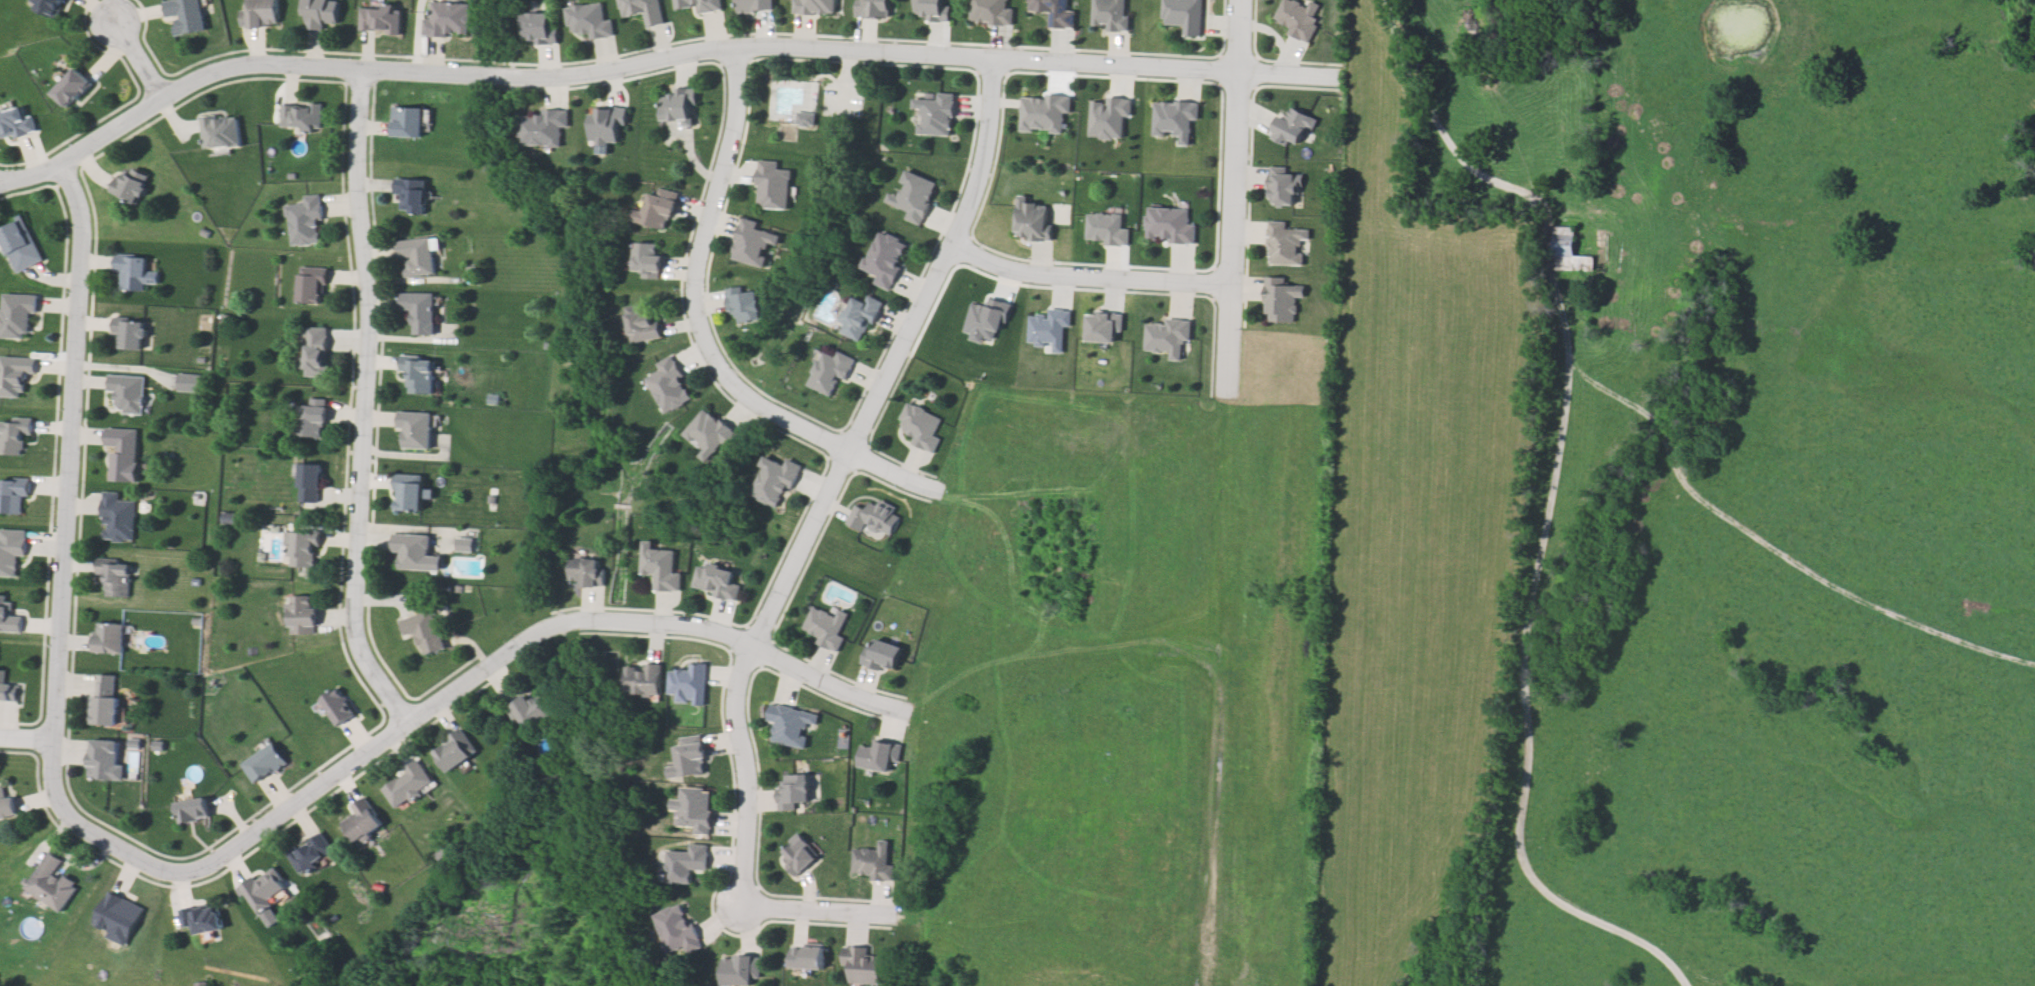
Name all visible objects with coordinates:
building: (692, 4)
building: (49, 6)
building: (754, 6)
building: (812, 6)
building: (638, 8)
building: (873, 8)
building: (934, 9)
building: (321, 10)
building: (992, 10)
building: (1047, 11)
building: (262, 12)
building: (186, 14)
building: (1108, 15)
building: (1183, 17)
building: (1298, 18)
building: (375, 19)
building: (451, 21)
building: (584, 22)
building: (536, 28)
road: (653, 56)
road: (146, 58)
building: (72, 88)
building: (679, 106)
road: (1430, 113)
building: (1042, 114)
building: (935, 115)
building: (300, 116)
building: (1107, 118)
building: (807, 119)
building: (15, 120)
building: (1173, 120)
building: (408, 122)
building: (1293, 125)
building: (606, 126)
building: (542, 128)
building: (221, 133)
building: (1288, 183)
building: (774, 186)
building: (133, 187)
building: (914, 194)
building: (412, 196)
road: (1228, 201)
building: (658, 211)
building: (1033, 217)
building: (304, 222)
building: (1168, 224)
building: (1104, 229)
building: (205, 233)
building: (755, 242)
building: (1290, 243)
building: (22, 245)
building: (1573, 246)
building: (418, 256)
building: (647, 257)
building: (886, 259)
building: (472, 270)
road: (1083, 272)
building: (133, 274)
building: (309, 291)
building: (1285, 299)
building: (745, 305)
building: (423, 313)
building: (18, 316)
building: (858, 320)
building: (643, 322)
building: (1104, 329)
road: (696, 330)
building: (1166, 335)
building: (132, 336)
building: (314, 350)
building: (829, 375)
building: (14, 377)
building: (423, 377)
building: (188, 385)
building: (669, 389)
building: (130, 396)
building: (493, 399)
road: (372, 408)
building: (310, 421)
building: (921, 427)
building: (415, 430)
building: (229, 436)
building: (711, 436)
building: (12, 438)
road: (69, 450)
building: (124, 455)
road: (832, 476)
building: (310, 483)
building: (777, 485)
building: (11, 495)
building: (410, 497)
road: (1073, 500)
building: (118, 514)
building: (228, 517)
building: (873, 519)
crop: (1412, 528)
building: (466, 546)
building: (302, 550)
building: (414, 551)
building: (11, 556)
building: (662, 566)
building: (589, 572)
building: (118, 580)
building: (717, 580)
building: (197, 581)
building: (8, 613)
building: (302, 614)
building: (198, 621)
building: (829, 626)
building: (422, 633)
building: (110, 638)
building: (882, 657)
building: (645, 678)
building: (688, 683)
building: (5, 684)
road: (823, 688)
road: (1206, 694)
building: (104, 700)
building: (340, 707)
building: (534, 710)
road: (1055, 725)
building: (789, 727)
road: (25, 741)
building: (457, 754)
building: (880, 754)
building: (691, 760)
building: (106, 761)
building: (264, 763)
road: (369, 763)
building: (410, 787)
building: (794, 792)
building: (6, 801)
building: (694, 810)
building: (193, 813)
building: (363, 823)
building: (797, 853)
building: (311, 854)
building: (874, 859)
building: (686, 864)
building: (52, 885)
building: (265, 891)
road: (815, 912)
building: (119, 914)
building: (201, 922)
road: (1098, 925)
building: (673, 929)
building: (808, 956)
building: (866, 967)
building: (740, 968)

